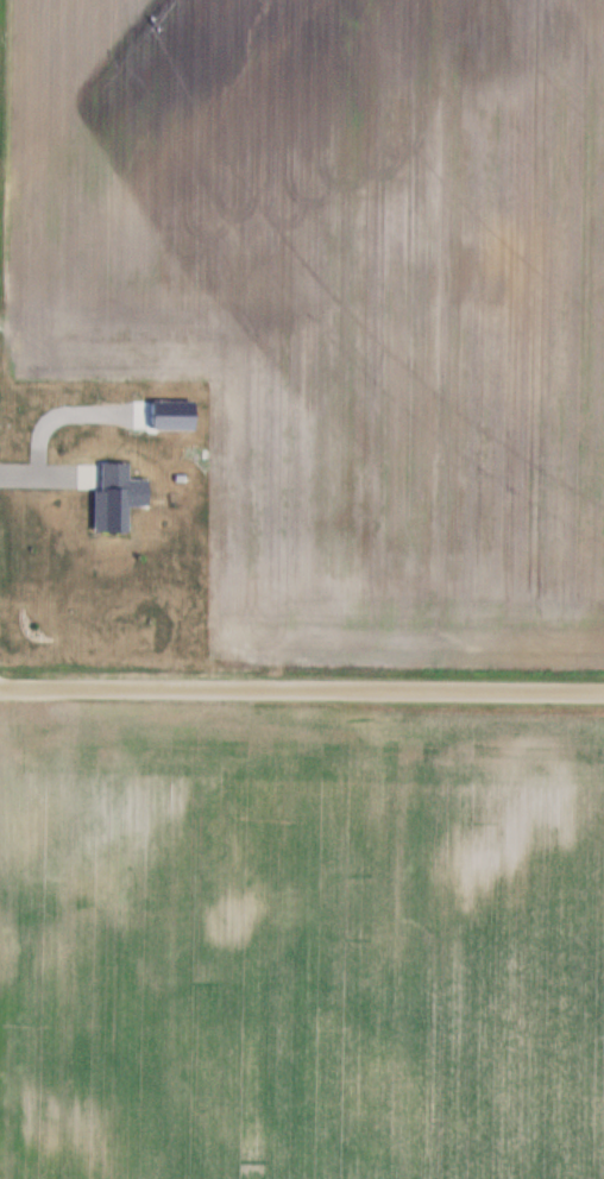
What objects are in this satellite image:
road: (302, 696)

